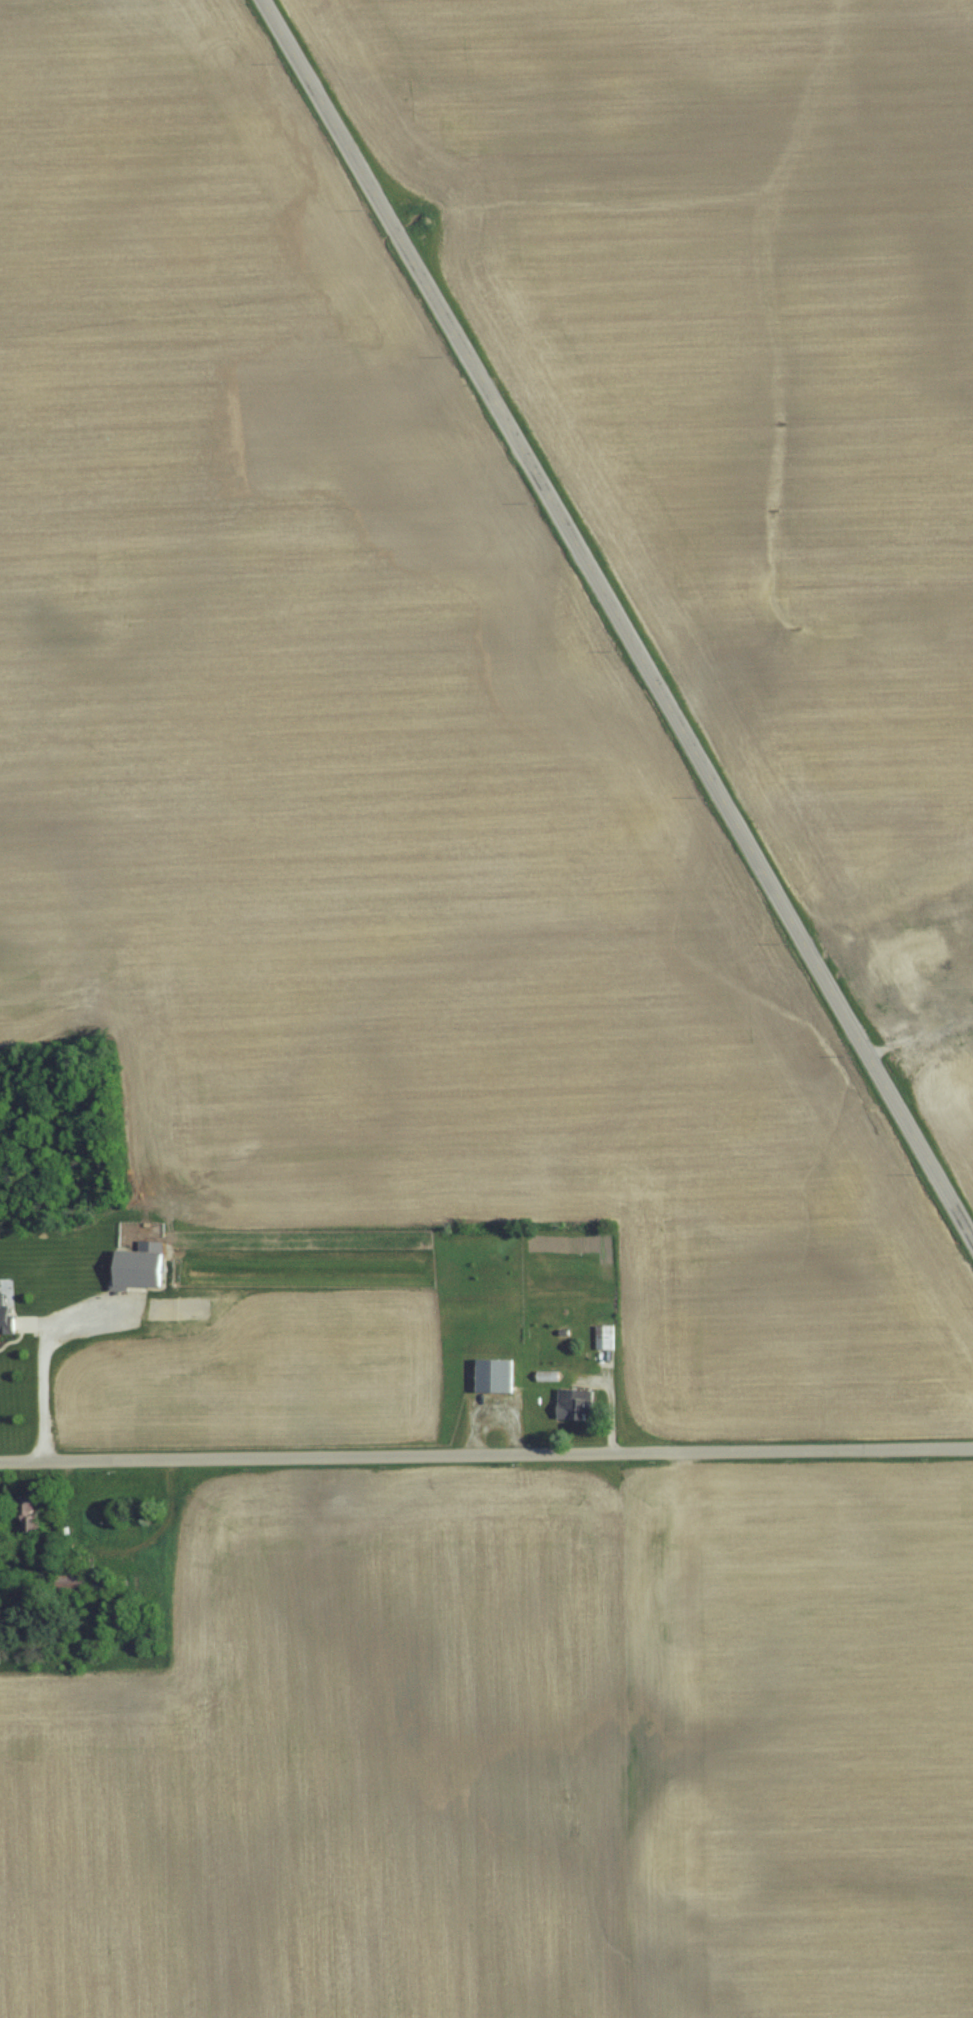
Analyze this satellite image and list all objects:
road: (615, 618)
building: (498, 1376)
road: (53, 1390)
building: (576, 1404)
road: (486, 1454)
building: (33, 1516)
building: (74, 1582)
building: (105, 1583)
building: (115, 1621)

